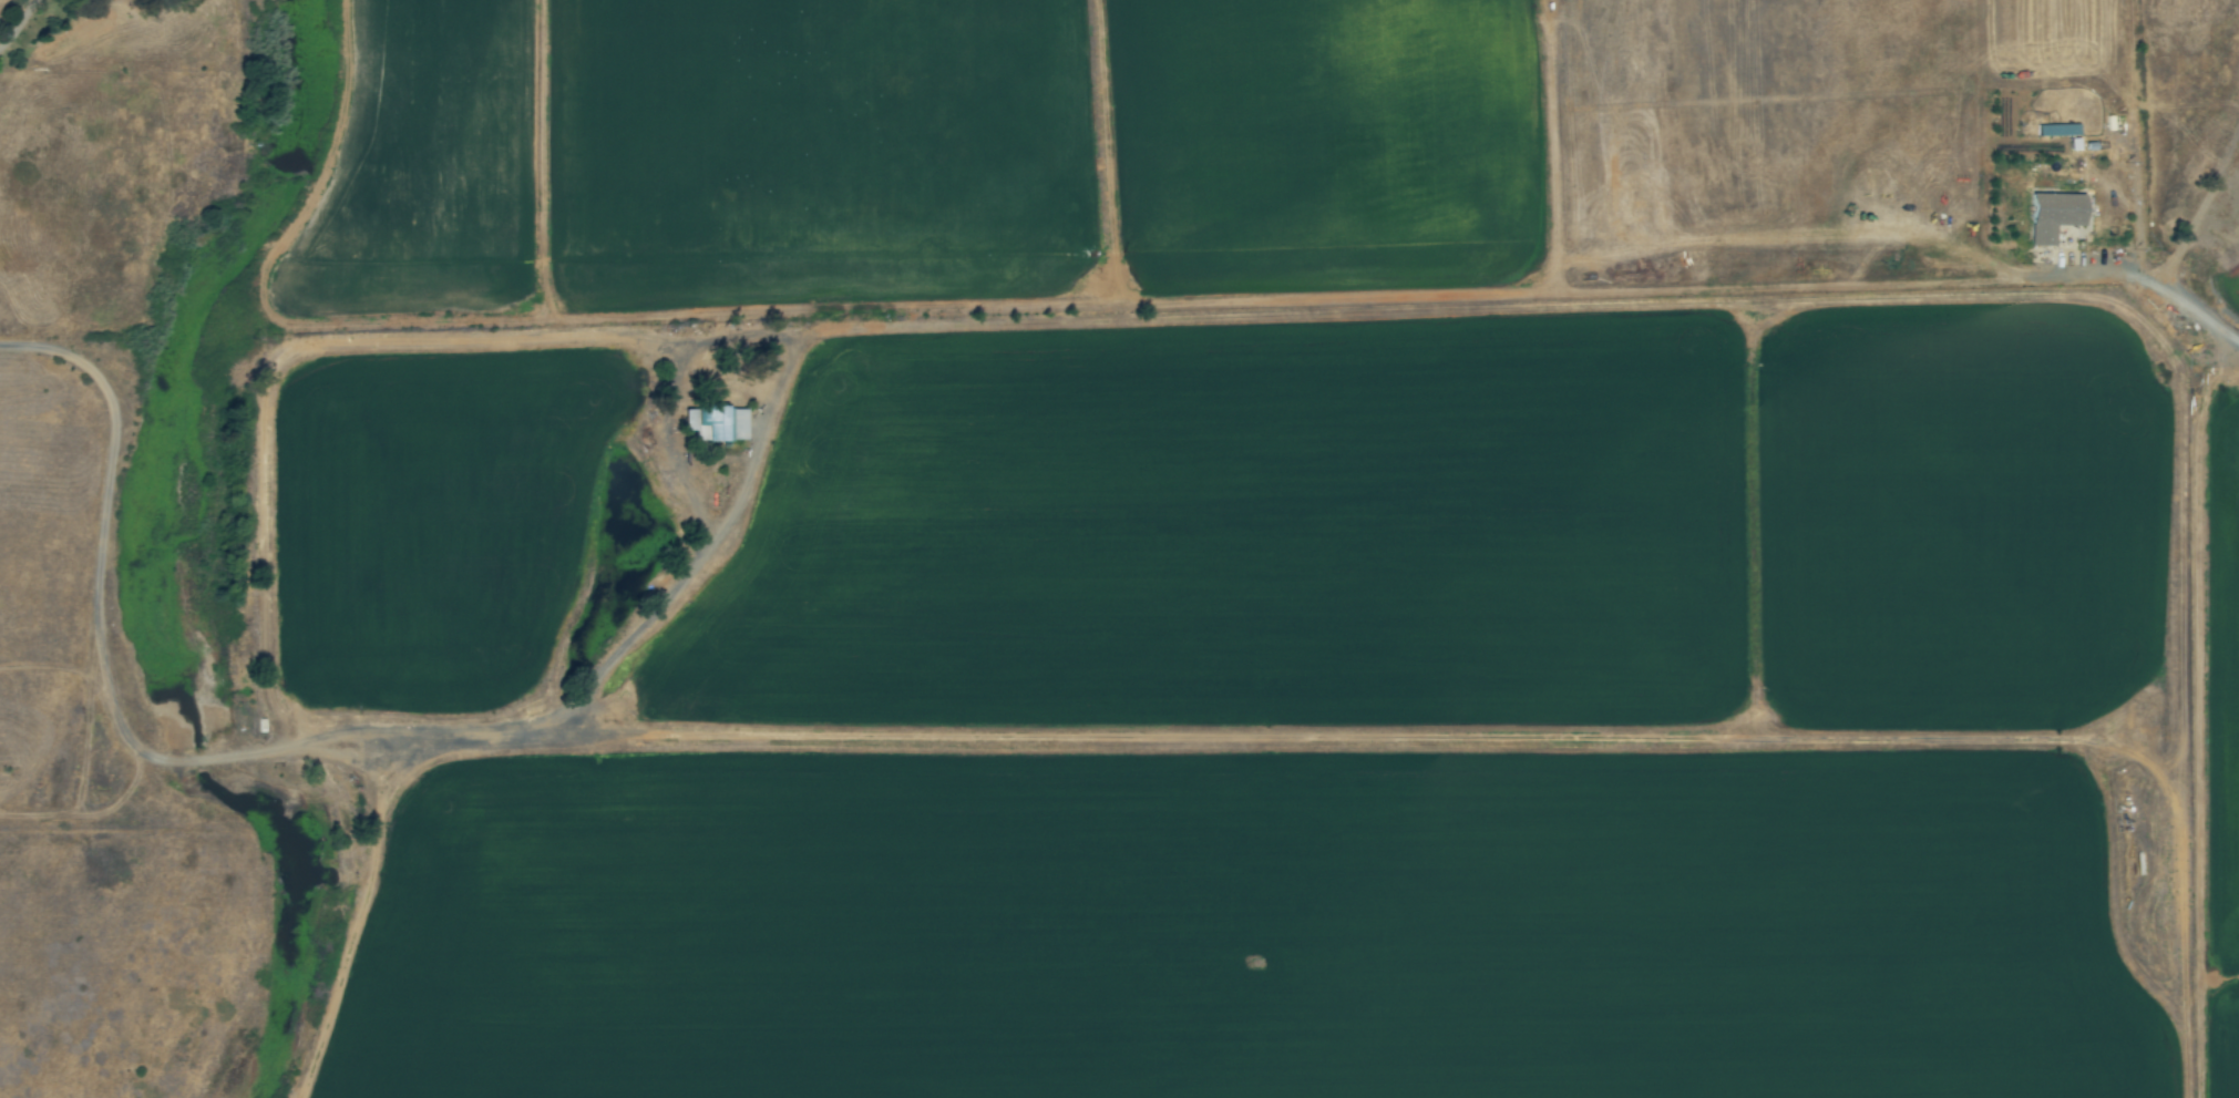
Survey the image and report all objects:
road: (17, 21)
road: (141, 66)
building: (2054, 216)
road: (2159, 285)
building: (726, 425)

